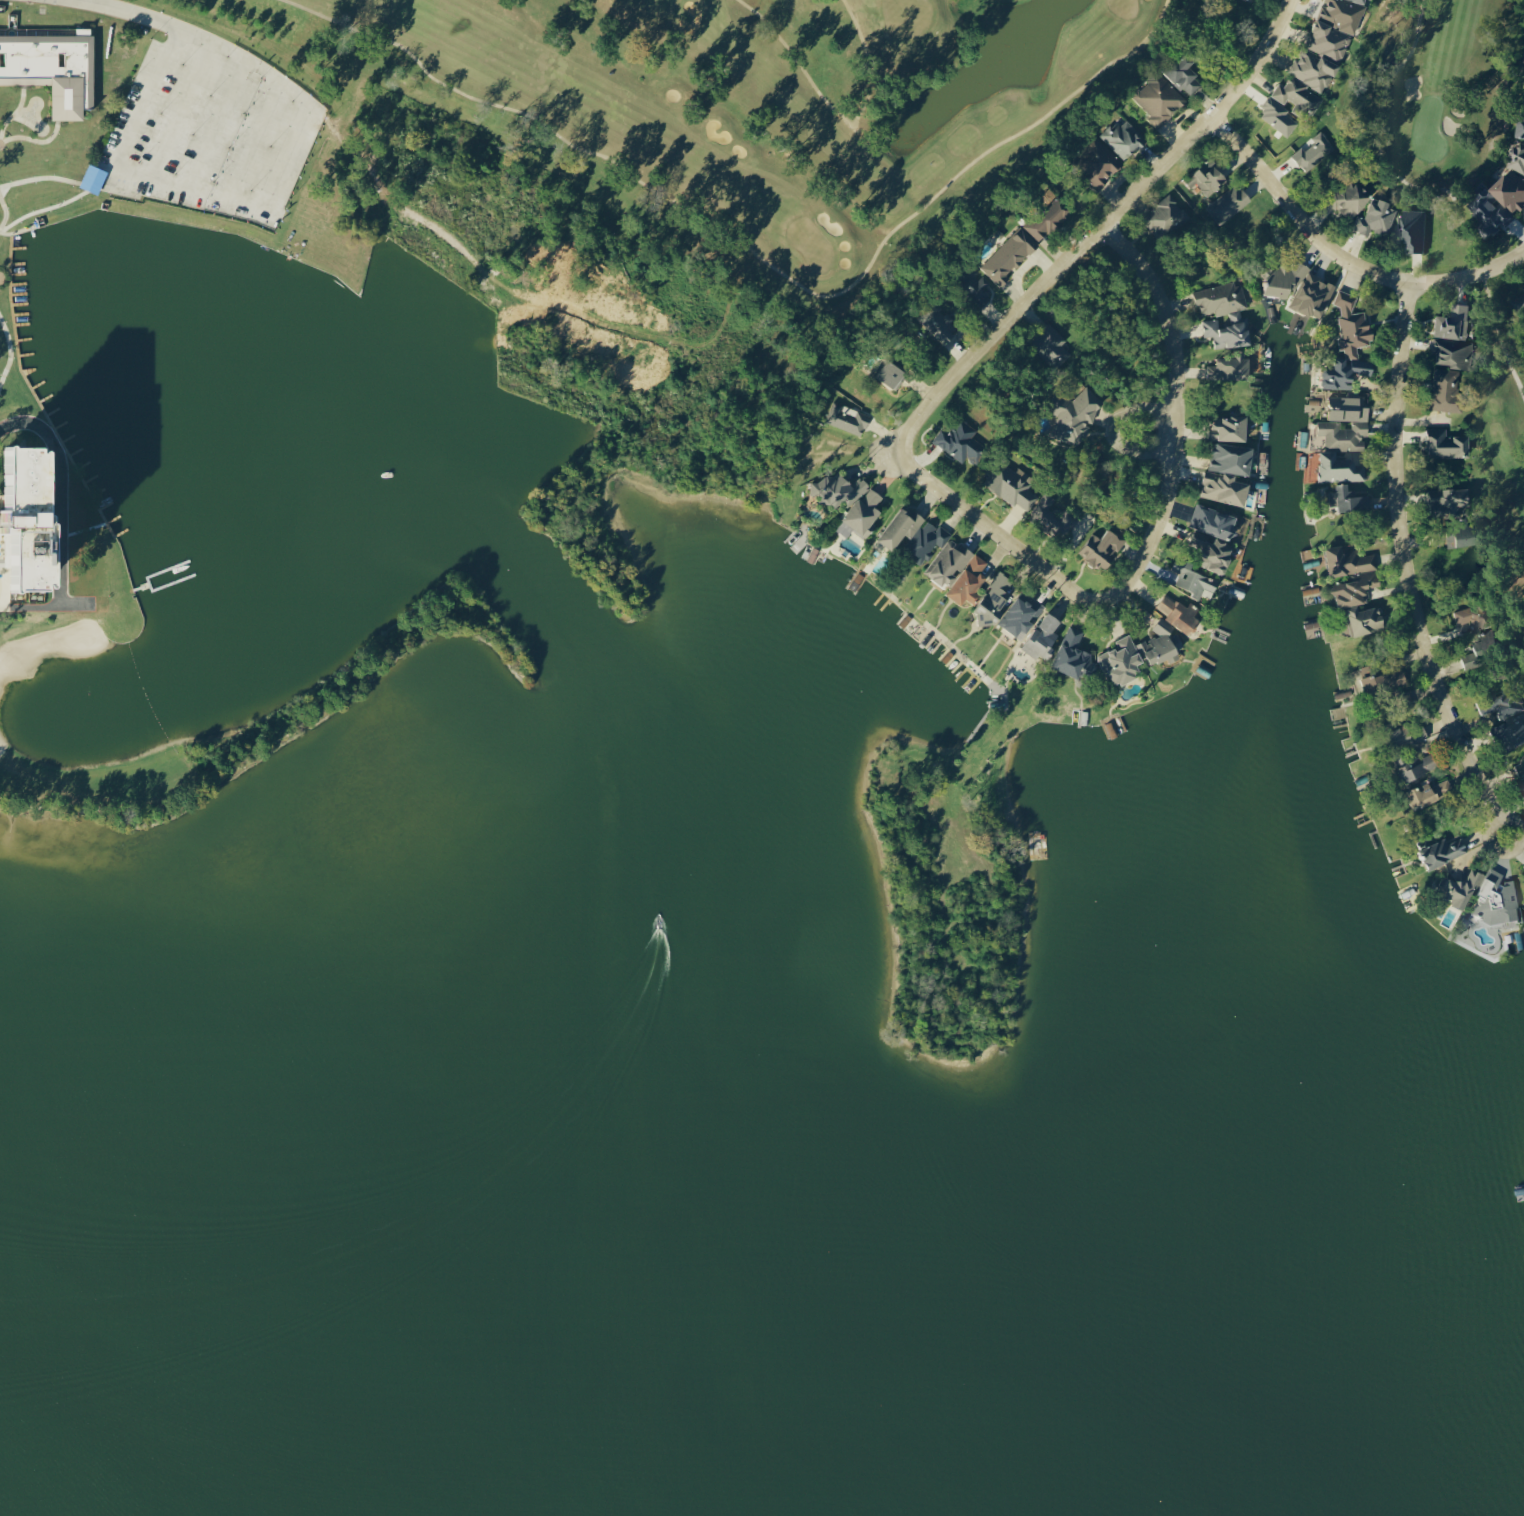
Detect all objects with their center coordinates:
building: (1256, 0)
road: (122, 11)
building: (1322, 53)
building: (55, 67)
building: (1185, 74)
building: (1159, 99)
park: (752, 113)
parking lot: (216, 126)
building: (1522, 130)
building: (1123, 139)
building: (1314, 151)
building: (1101, 159)
building: (1519, 159)
building: (1207, 180)
building: (1513, 190)
park: (1463, 193)
building: (1351, 199)
road: (242, 202)
building: (1229, 203)
building: (1495, 210)
building: (1166, 217)
building: (1377, 218)
building: (1414, 229)
road: (1098, 232)
building: (1025, 241)
road: (1342, 258)
building: (976, 288)
building: (1314, 296)
building: (1520, 304)
building: (1225, 314)
building: (1454, 323)
building: (939, 324)
building: (1052, 345)
building: (1349, 346)
building: (1452, 353)
building: (1228, 369)
building: (892, 374)
building: (1447, 390)
building: (1076, 415)
building: (848, 418)
building: (1346, 424)
building: (1229, 428)
road: (1150, 433)
building: (961, 442)
building: (1446, 444)
building: (1340, 468)
building: (1229, 473)
building: (1012, 486)
building: (1348, 499)
building: (851, 502)
building: (1451, 502)
road: (1399, 508)
building: (1054, 517)
building: (901, 527)
building: (38, 528)
building: (1463, 536)
building: (1225, 538)
road: (1154, 539)
building: (927, 542)
building: (1104, 547)
building: (959, 572)
building: (1371, 578)
building: (1194, 580)
building: (1028, 603)
building: (1179, 613)
building: (1479, 617)
building: (1366, 620)
building: (1044, 637)
building: (1162, 644)
building: (1480, 653)
building: (1072, 654)
building: (1123, 660)
building: (1369, 680)
building: (1392, 681)
building: (1508, 714)
building: (1406, 734)
road: (1484, 754)
building: (1415, 766)
building: (1520, 769)
road: (1480, 782)
building: (1430, 793)
building: (1444, 852)
building: (1464, 889)
building: (1498, 900)

